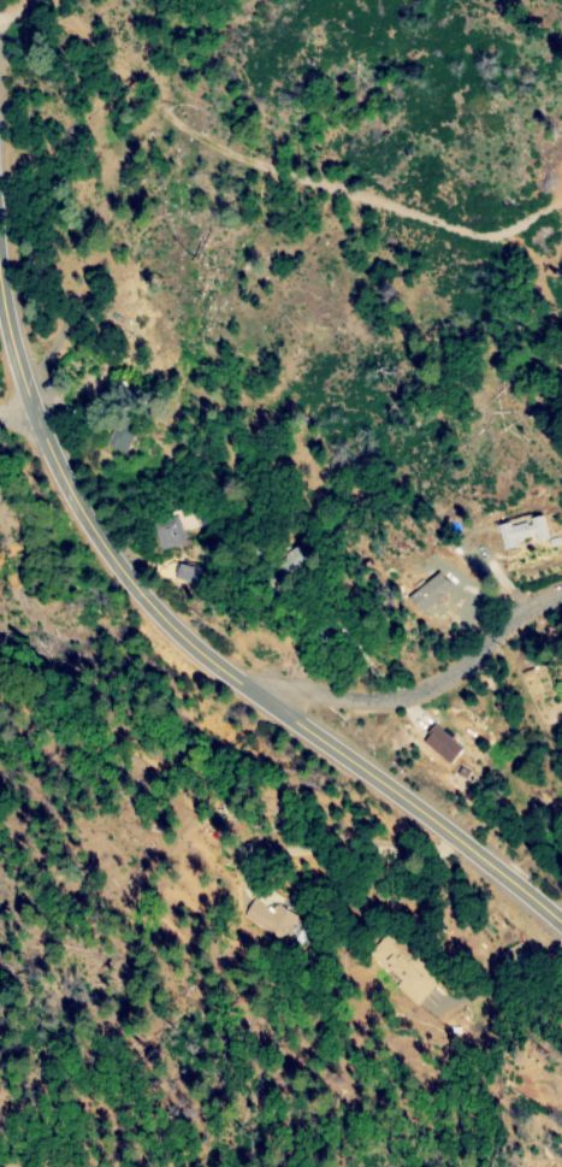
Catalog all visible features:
road: (13, 353)
road: (14, 412)
building: (125, 419)
building: (178, 523)
building: (521, 531)
building: (278, 564)
building: (184, 573)
building: (427, 593)
road: (262, 696)
road: (419, 696)
building: (443, 739)
building: (268, 919)
building: (392, 968)

